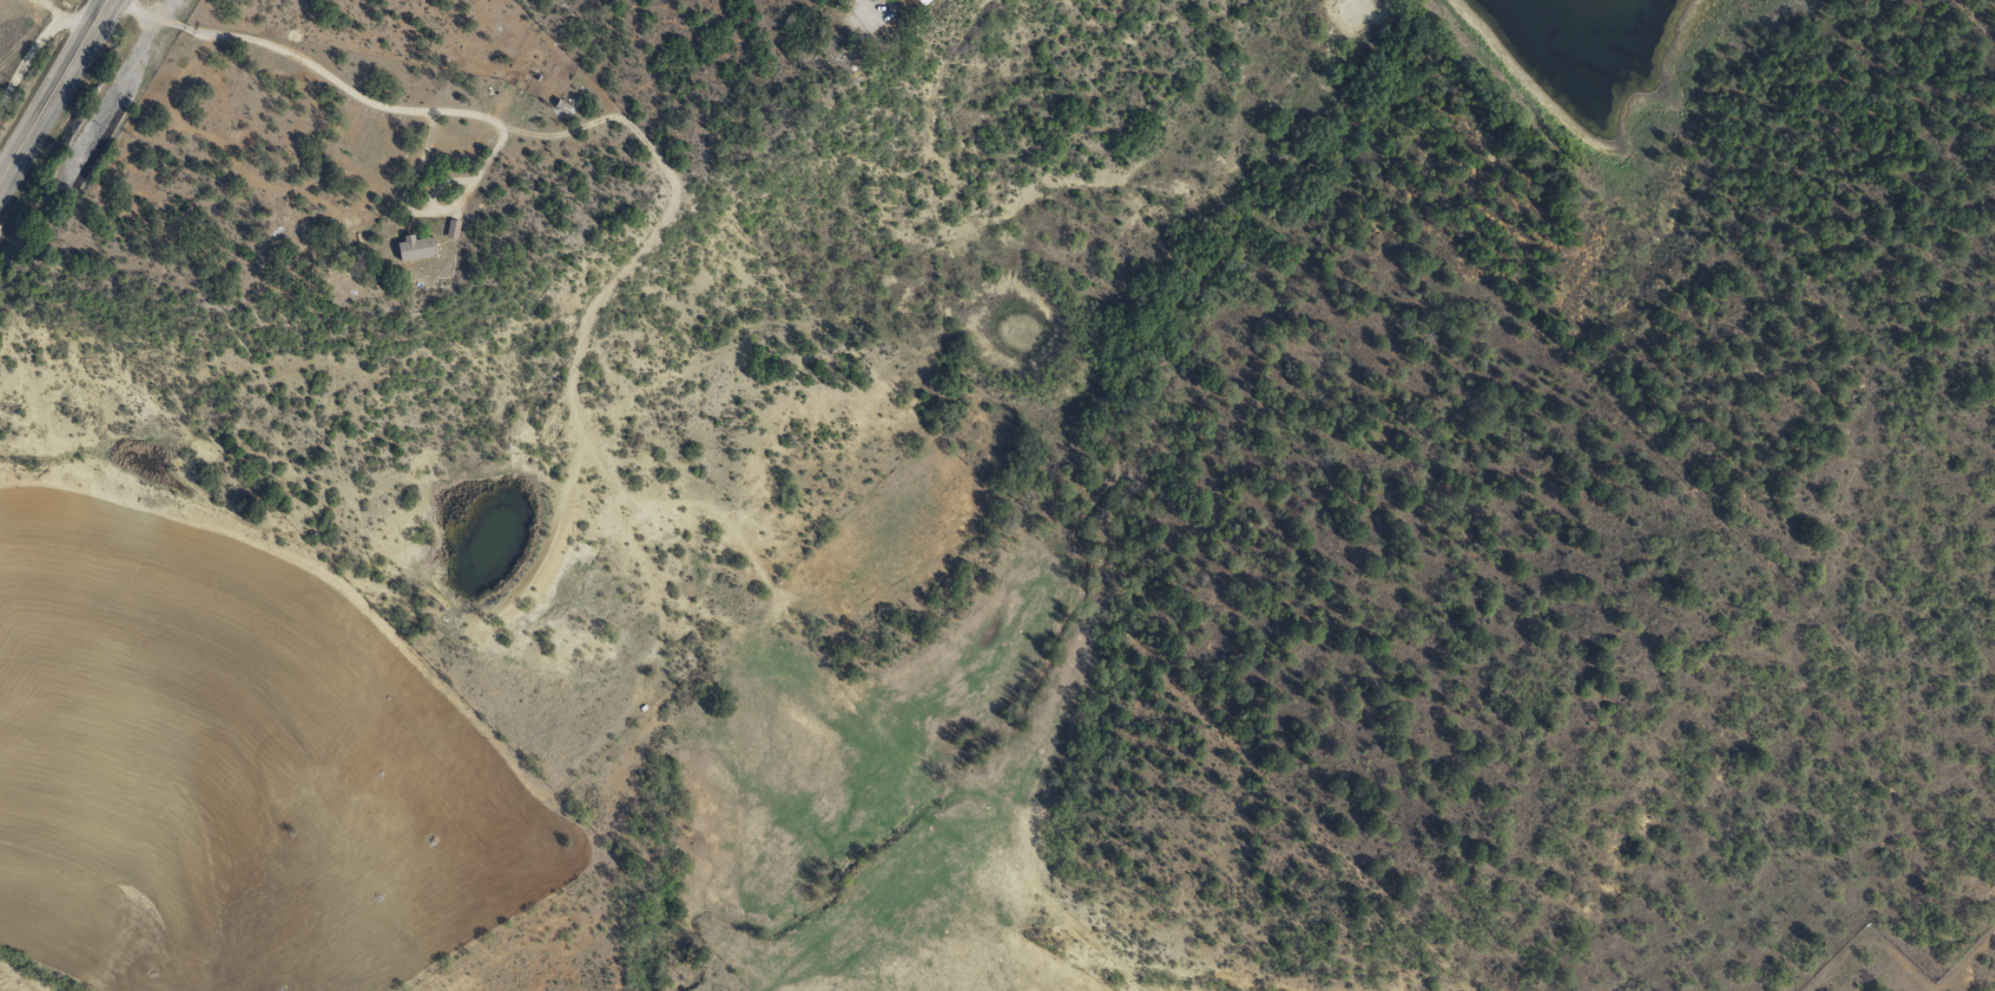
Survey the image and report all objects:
building: (923, 3)
road: (77, 10)
road: (31, 64)
road: (60, 96)
building: (562, 106)
building: (451, 229)
building: (415, 248)

